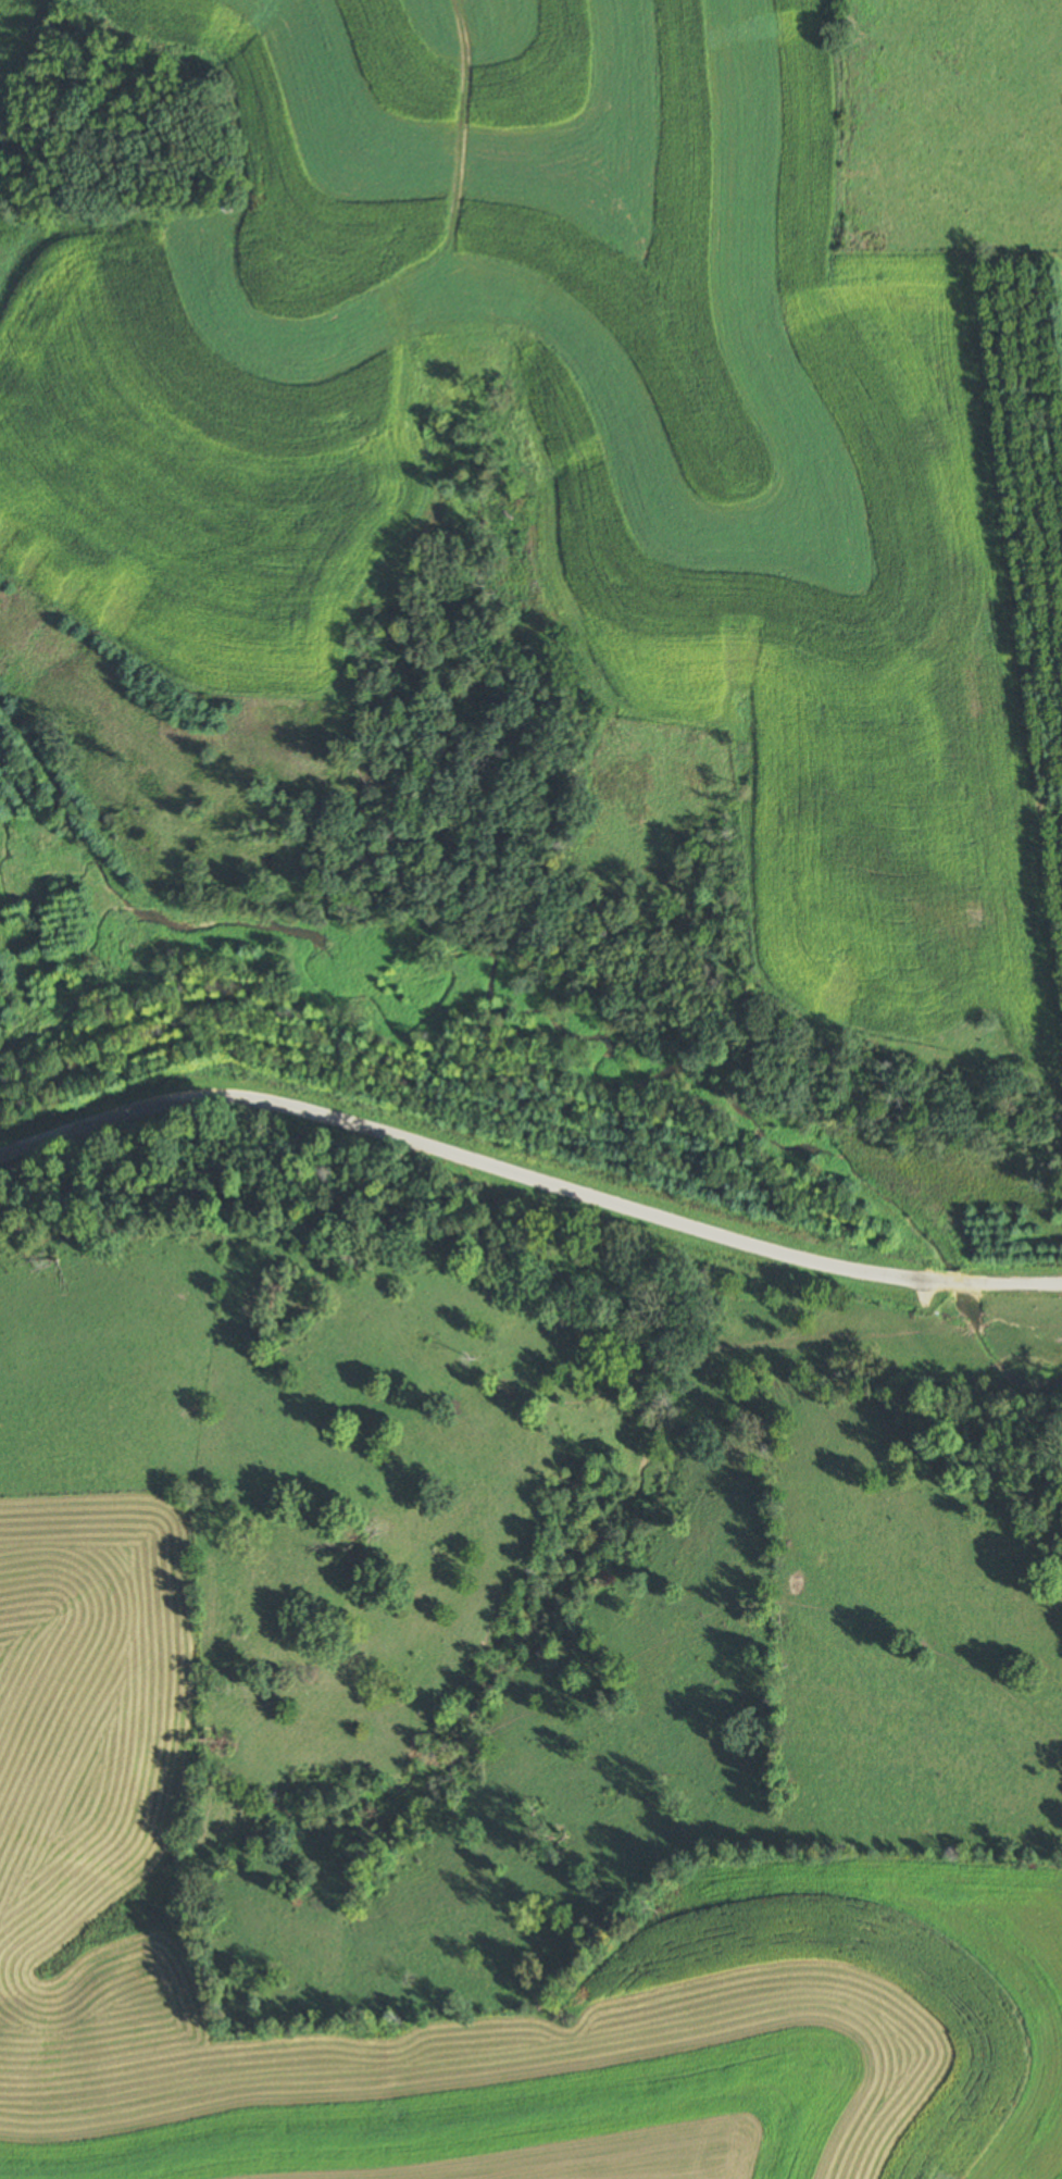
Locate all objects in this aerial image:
road: (529, 1175)

